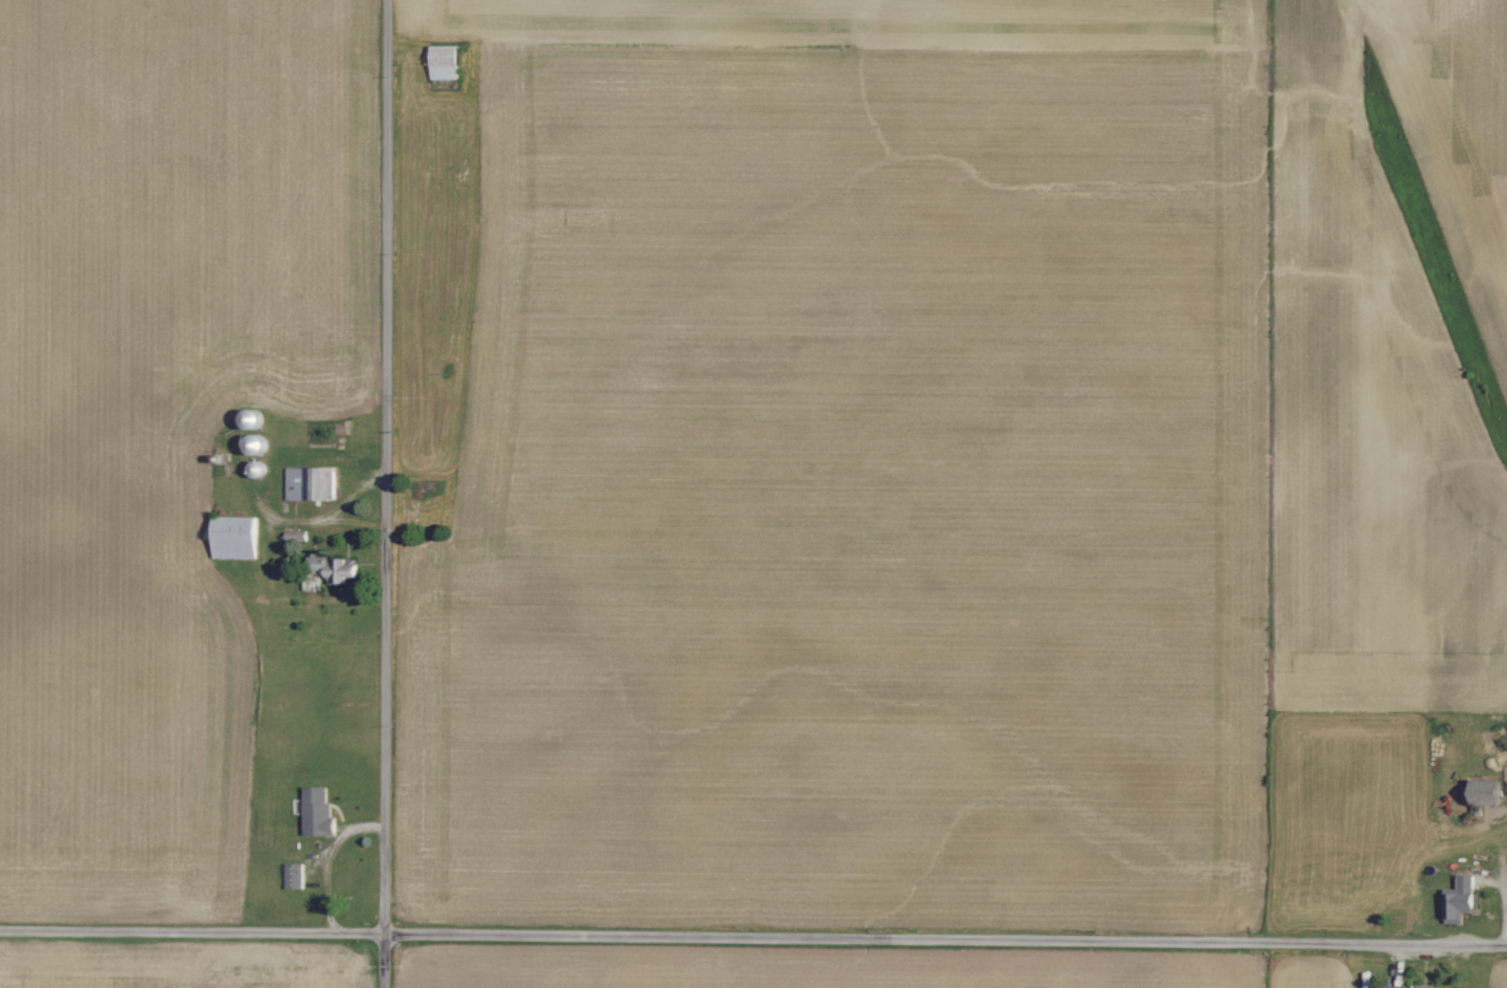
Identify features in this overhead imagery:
building: (447, 62)
building: (313, 483)
road: (387, 494)
building: (237, 537)
building: (342, 571)
building: (1491, 798)
building: (320, 811)
building: (297, 876)
building: (1463, 900)
road: (753, 935)

